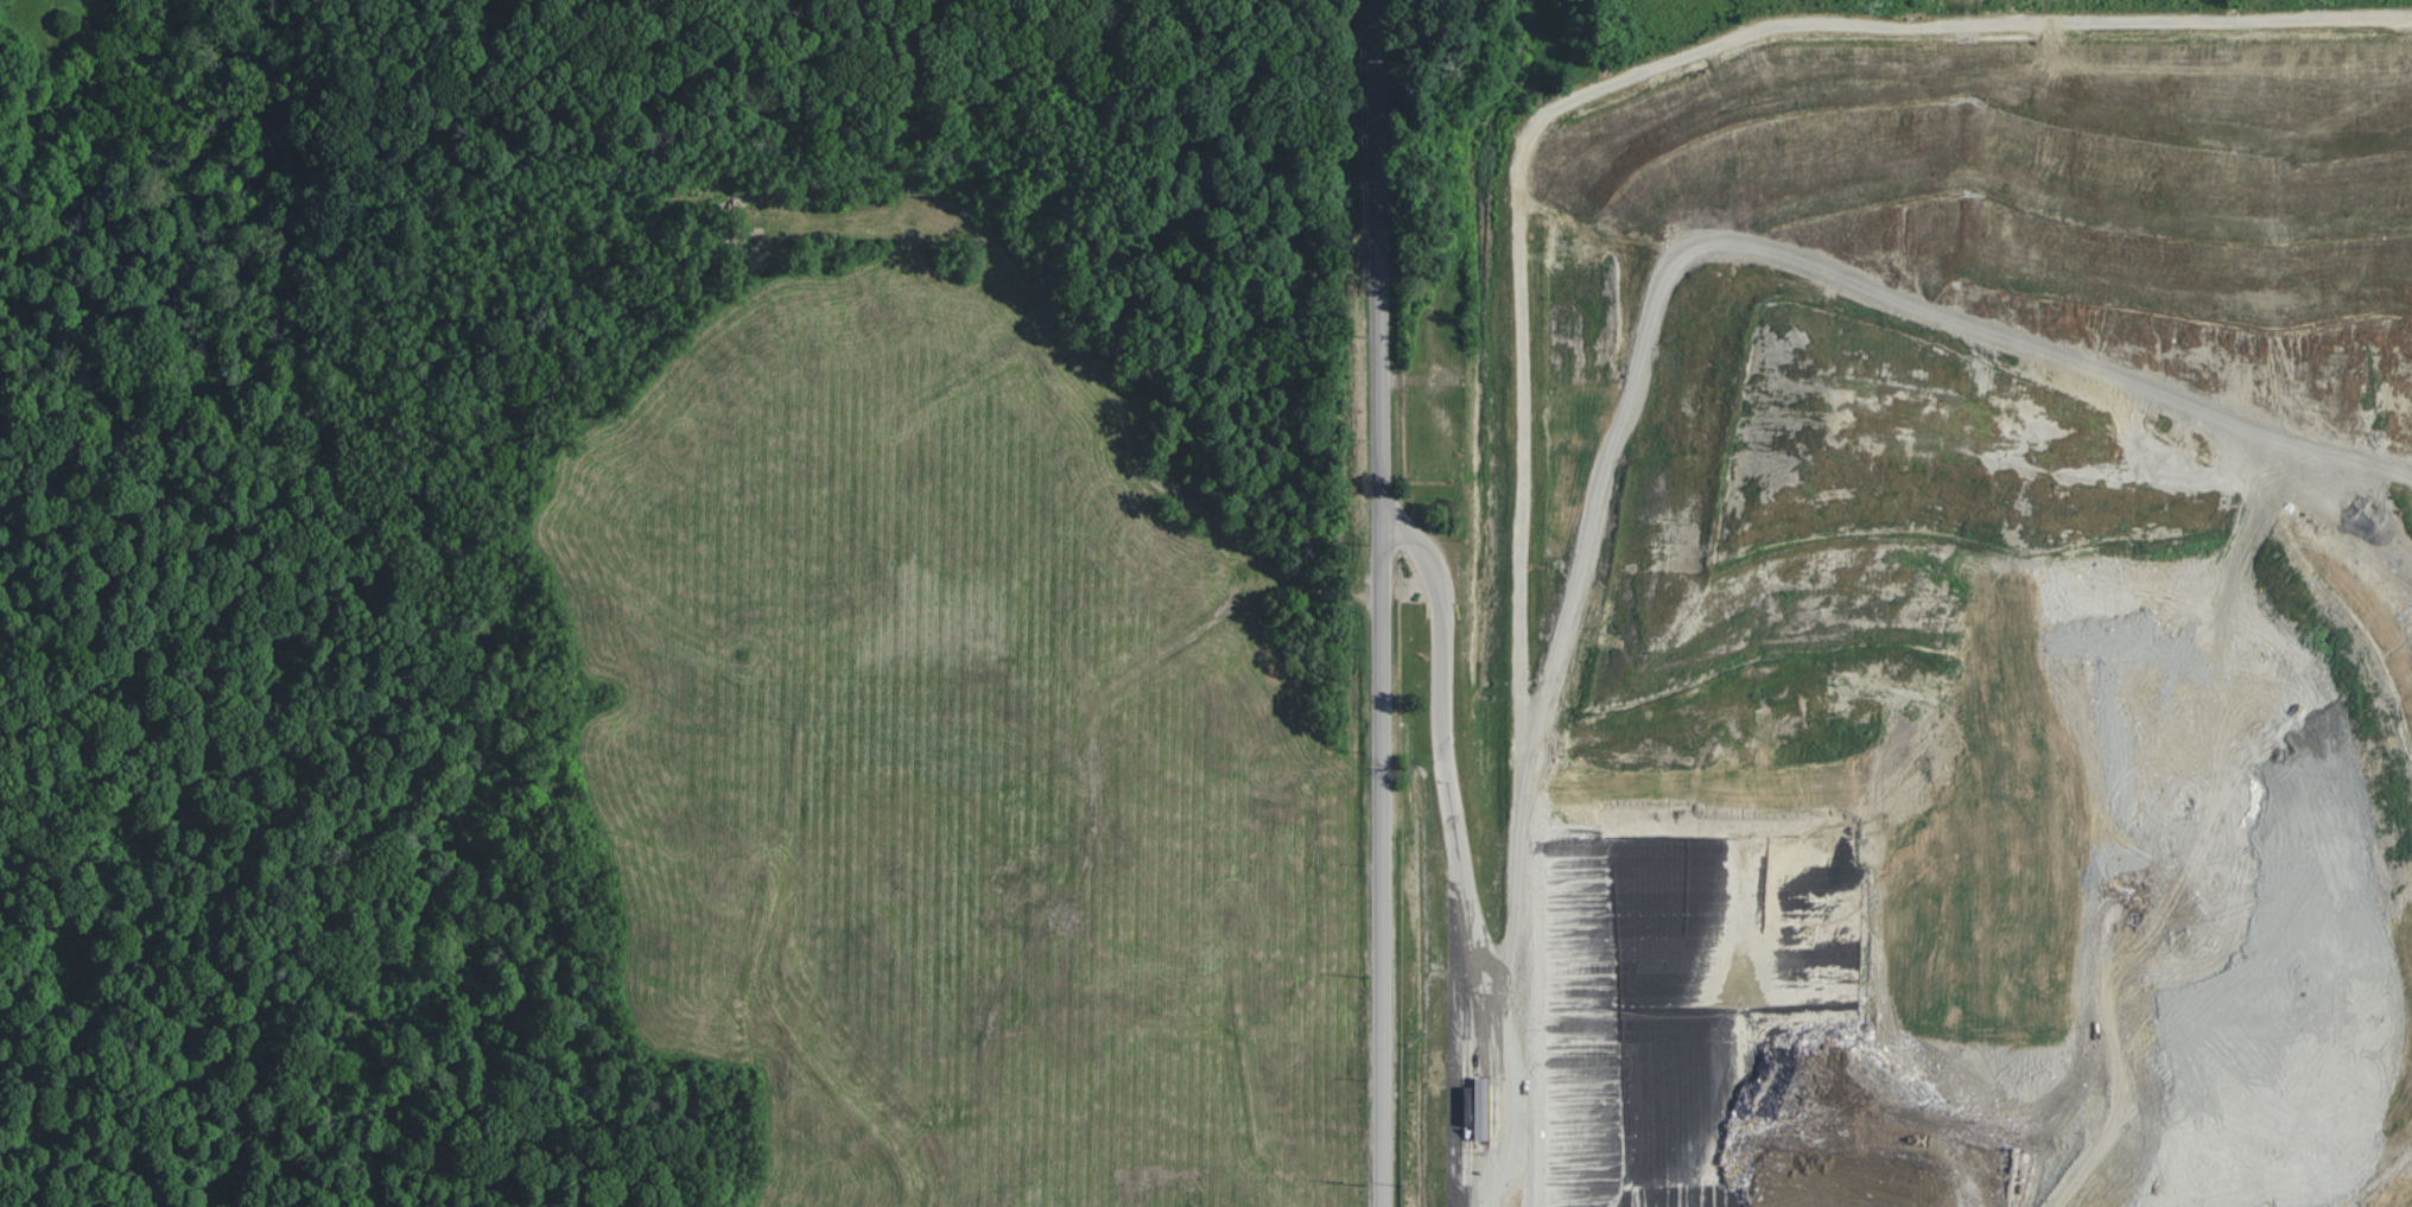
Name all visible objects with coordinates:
road: (1373, 603)
road: (1456, 844)
road: (1506, 1049)

